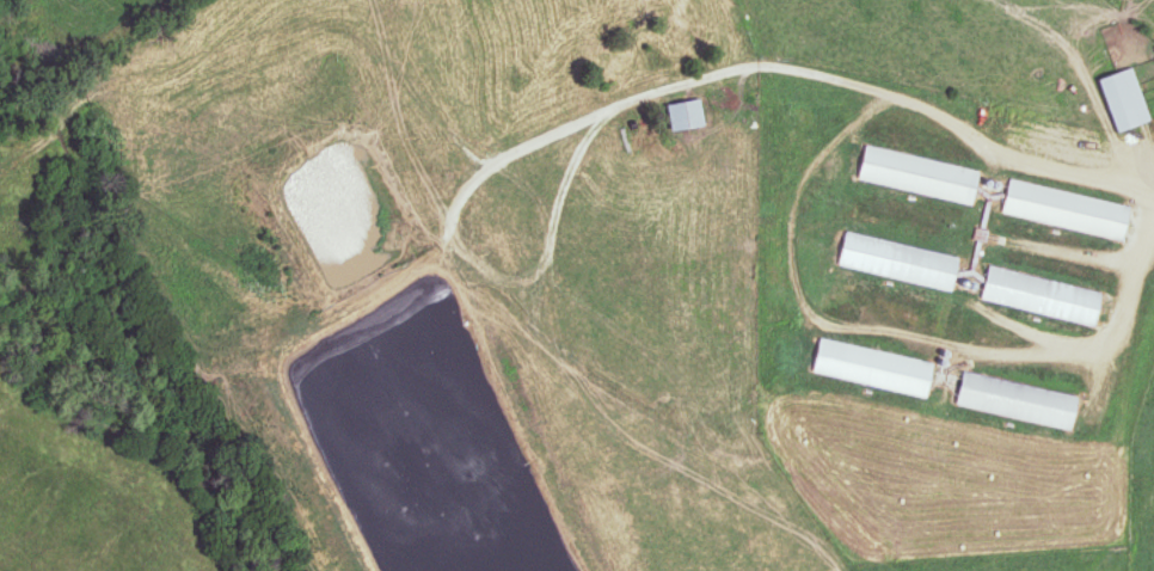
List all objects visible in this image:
building: (1116, 98)
building: (914, 174)
building: (1057, 209)
building: (959, 277)
building: (863, 367)
building: (1008, 400)

